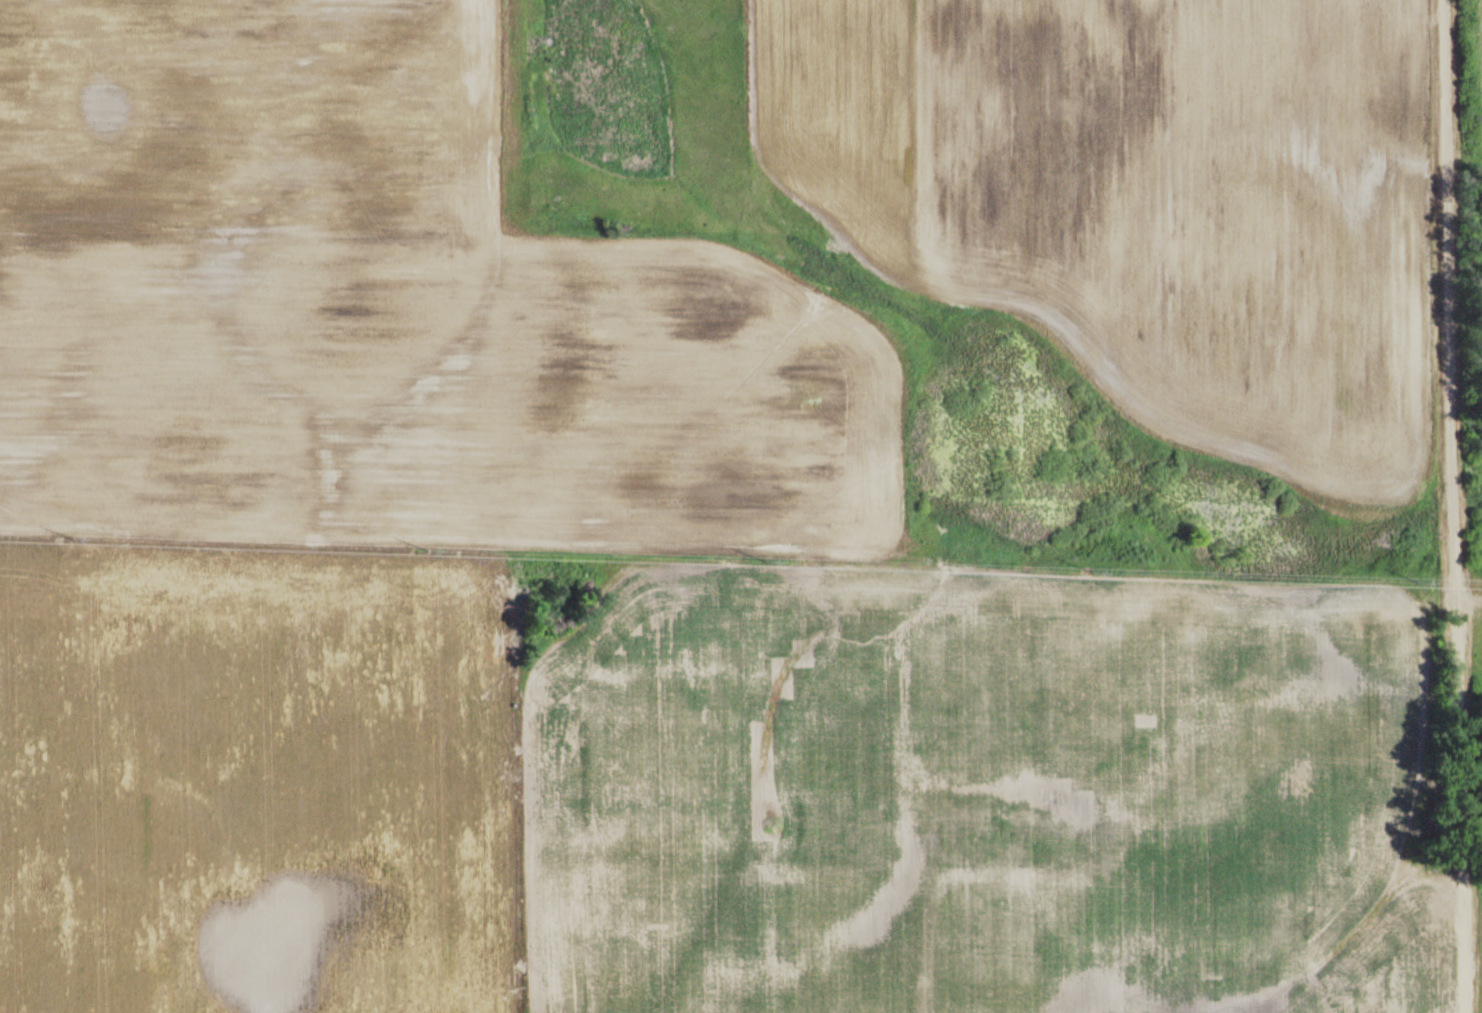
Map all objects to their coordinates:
road: (1458, 506)

